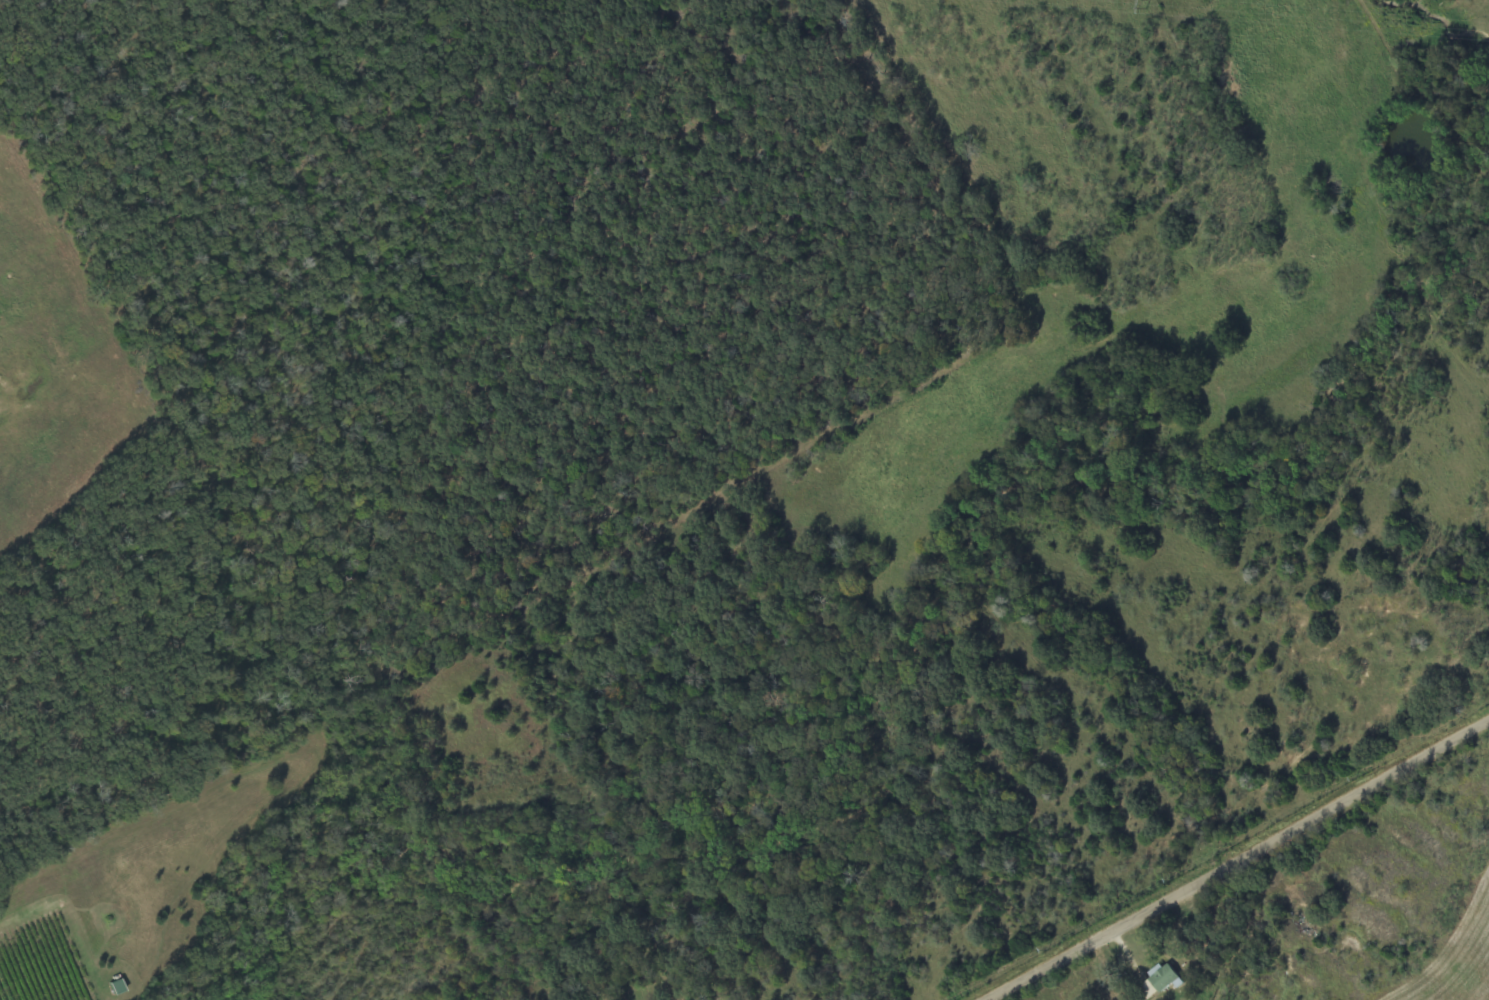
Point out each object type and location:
power tower: (1147, 3)
road: (474, 73)
road: (1241, 863)
building: (1163, 979)

